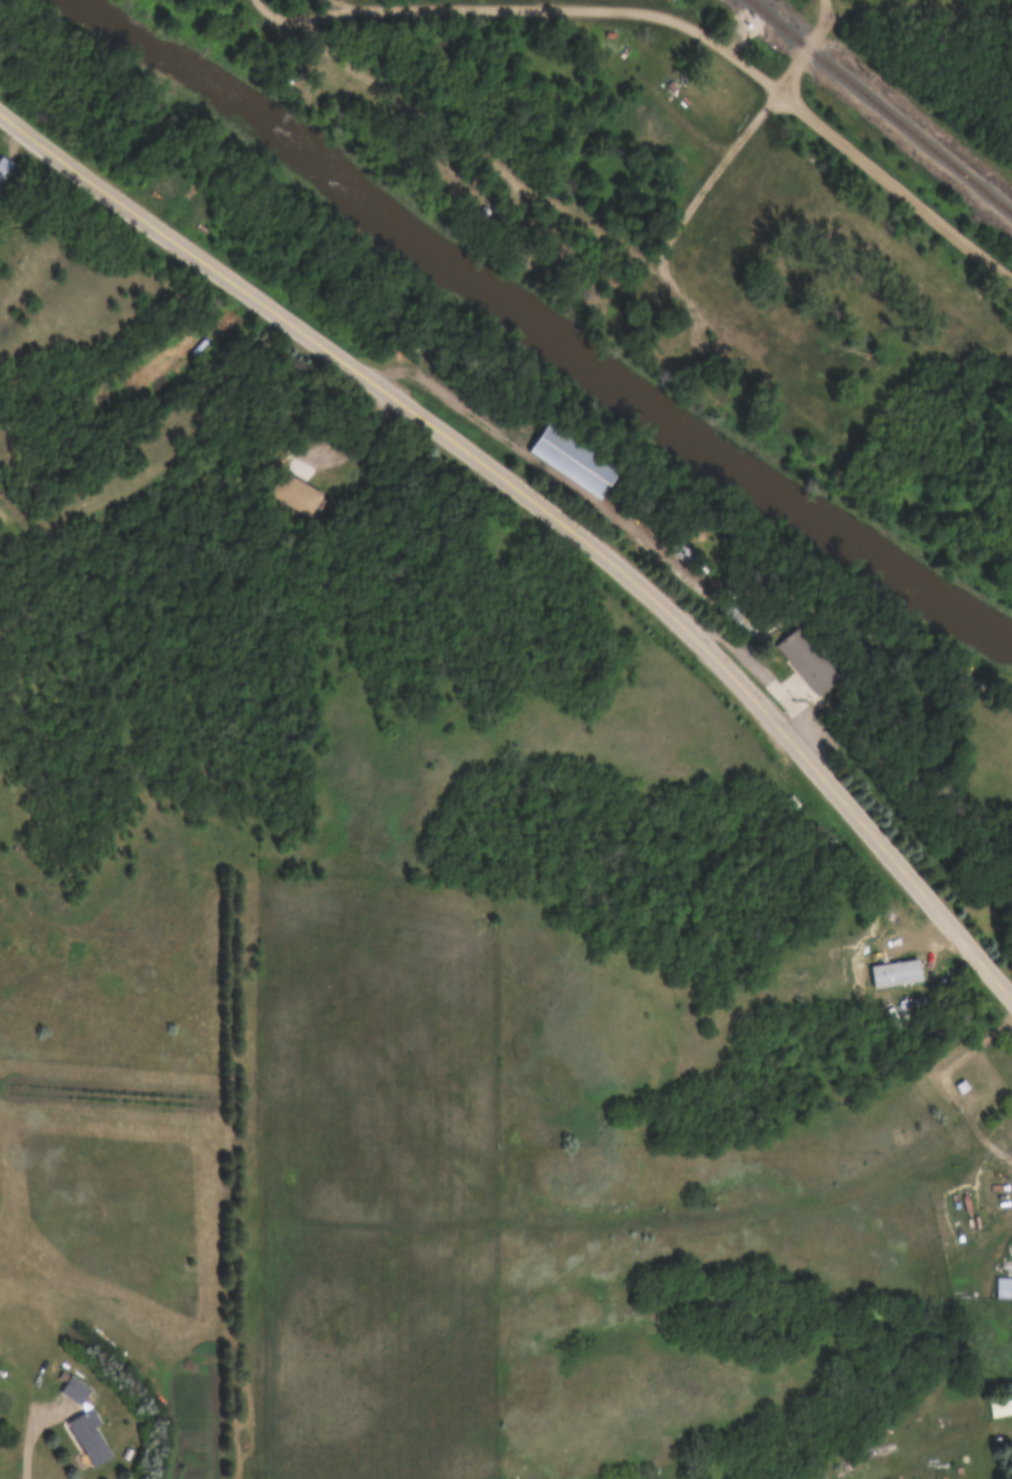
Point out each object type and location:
road: (343, 5)
road: (918, 7)
road: (574, 8)
road: (301, 15)
road: (807, 45)
railway: (879, 107)
building: (656, 136)
road: (471, 146)
building: (4, 167)
road: (895, 182)
building: (462, 183)
road: (665, 244)
building: (716, 295)
river: (536, 328)
building: (753, 350)
building: (815, 413)
road: (490, 422)
building: (576, 461)
building: (299, 495)
road: (546, 504)
building: (687, 553)
building: (809, 662)
road: (762, 669)
road: (896, 934)
building: (908, 966)
road: (945, 1076)
building: (961, 1087)
building: (1003, 1288)
building: (70, 1390)
building: (1000, 1408)
road: (38, 1430)
building: (85, 1438)

